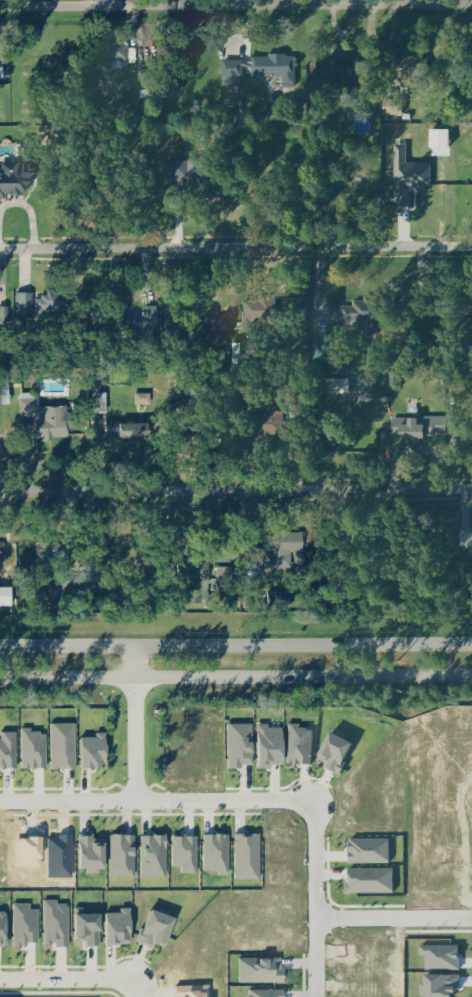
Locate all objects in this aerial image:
road: (236, 5)
building: (126, 54)
building: (264, 67)
building: (350, 72)
building: (2, 75)
building: (148, 80)
building: (175, 167)
building: (16, 175)
building: (415, 181)
building: (210, 183)
road: (17, 202)
road: (178, 221)
road: (235, 248)
building: (56, 298)
building: (25, 303)
building: (437, 306)
building: (259, 309)
building: (365, 313)
building: (136, 315)
building: (217, 342)
building: (328, 350)
building: (249, 351)
building: (395, 377)
building: (288, 383)
building: (335, 385)
building: (29, 405)
building: (52, 421)
building: (269, 421)
building: (419, 424)
building: (129, 428)
road: (235, 489)
building: (2, 550)
road: (235, 645)
road: (236, 681)
road: (139, 724)
building: (244, 743)
building: (67, 744)
building: (304, 744)
building: (275, 745)
building: (37, 748)
building: (10, 749)
building: (99, 749)
building: (341, 750)
road: (157, 803)
building: (374, 850)
building: (188, 852)
building: (218, 852)
building: (96, 854)
building: (126, 854)
building: (157, 855)
building: (251, 855)
building: (376, 879)
road: (318, 899)
road: (395, 917)
building: (29, 924)
building: (123, 925)
building: (6, 927)
building: (161, 927)
building: (264, 969)
road: (69, 978)
road: (136, 992)
building: (268, 992)

